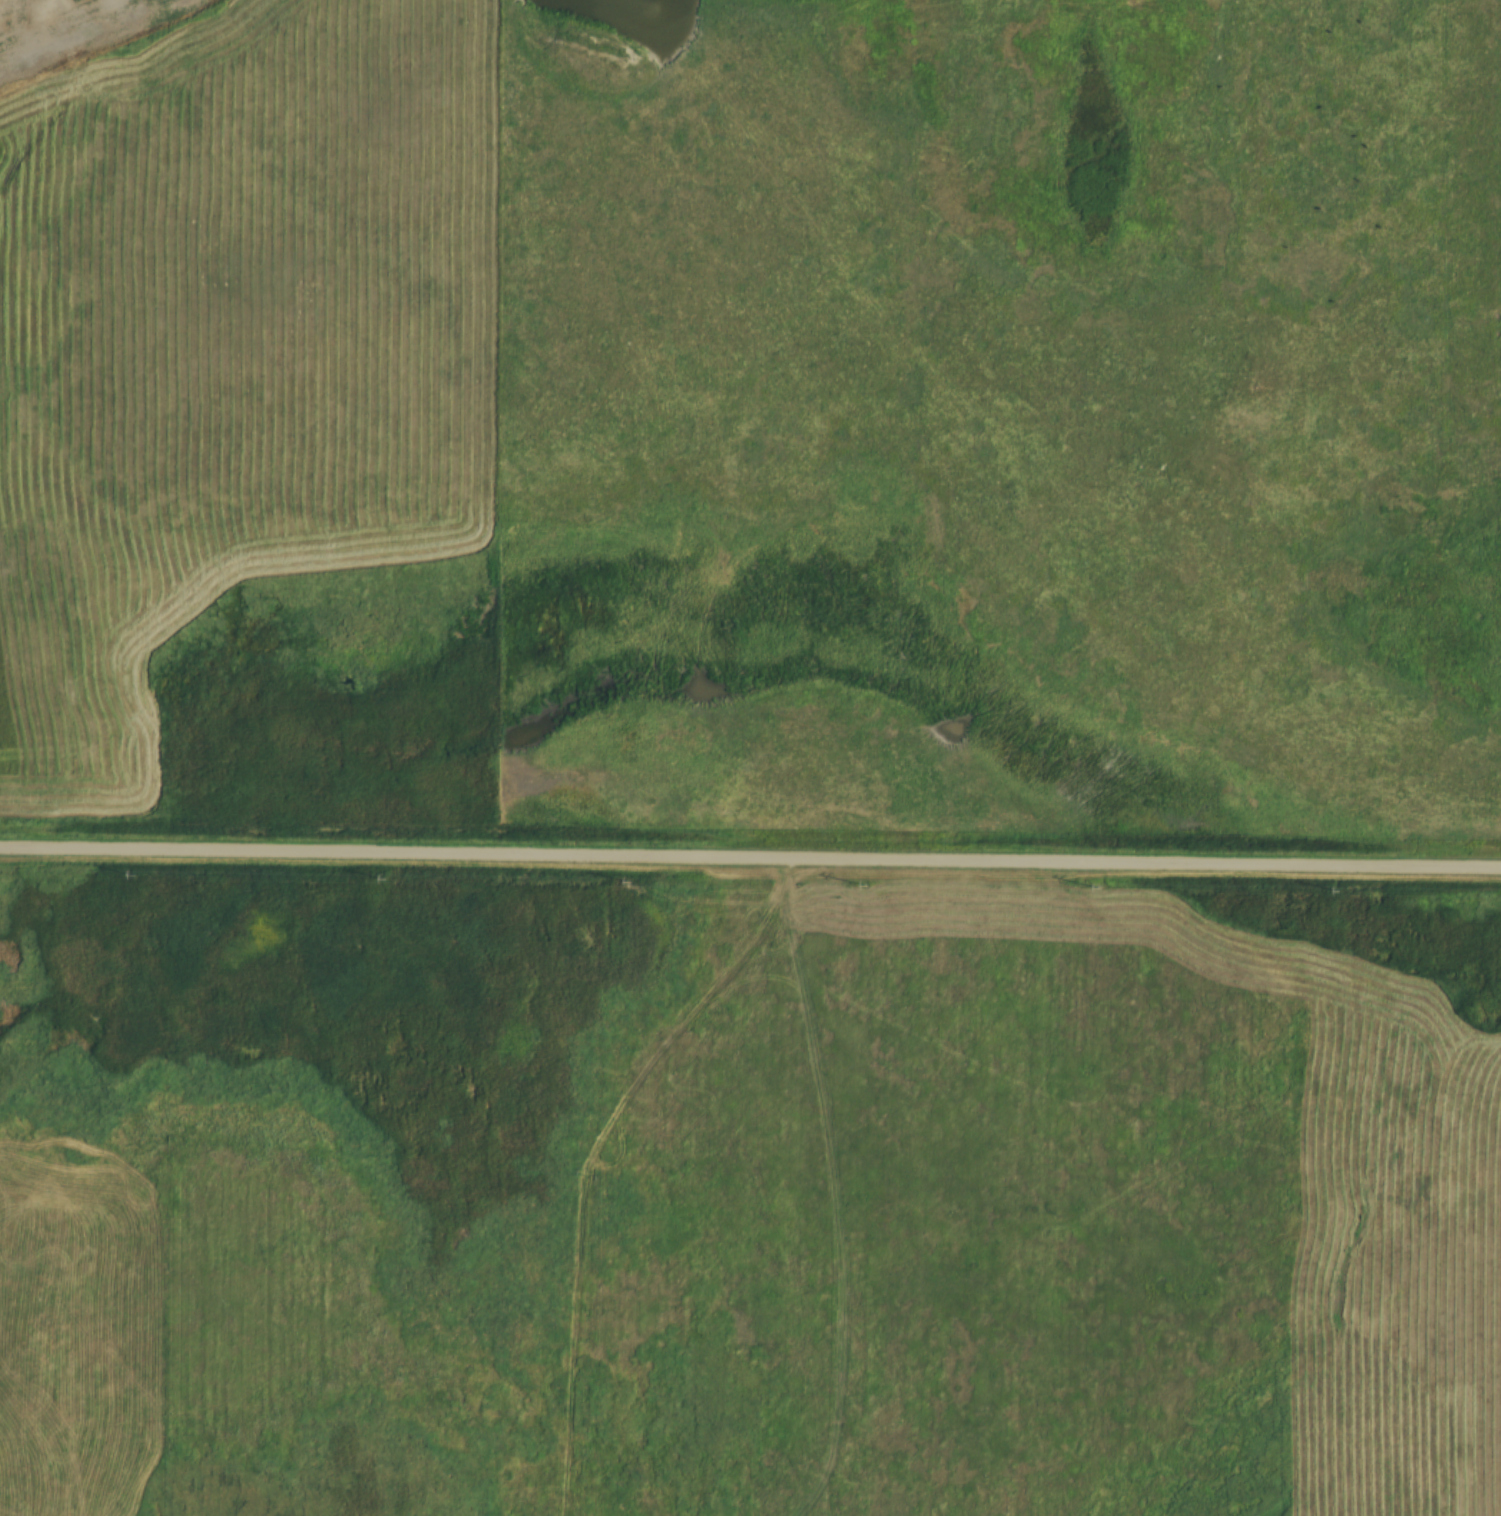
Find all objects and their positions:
road: (750, 858)

